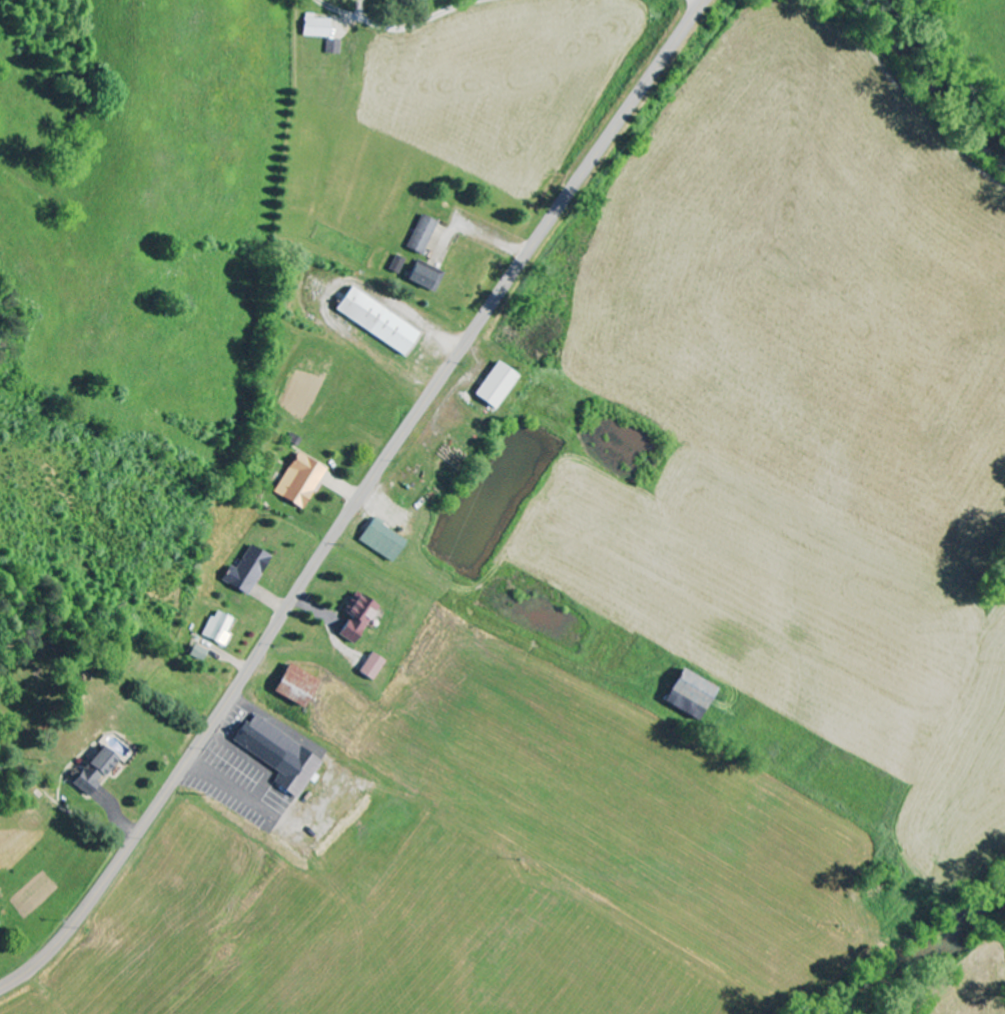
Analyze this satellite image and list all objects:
building: (316, 27)
road: (403, 27)
building: (333, 47)
river: (941, 83)
building: (420, 235)
building: (396, 265)
building: (421, 276)
building: (377, 321)
building: (495, 385)
building: (299, 481)
road: (357, 500)
building: (381, 541)
building: (246, 571)
building: (355, 617)
building: (217, 629)
building: (371, 667)
building: (294, 686)
building: (687, 695)
building: (277, 755)
building: (92, 772)
river: (916, 953)

